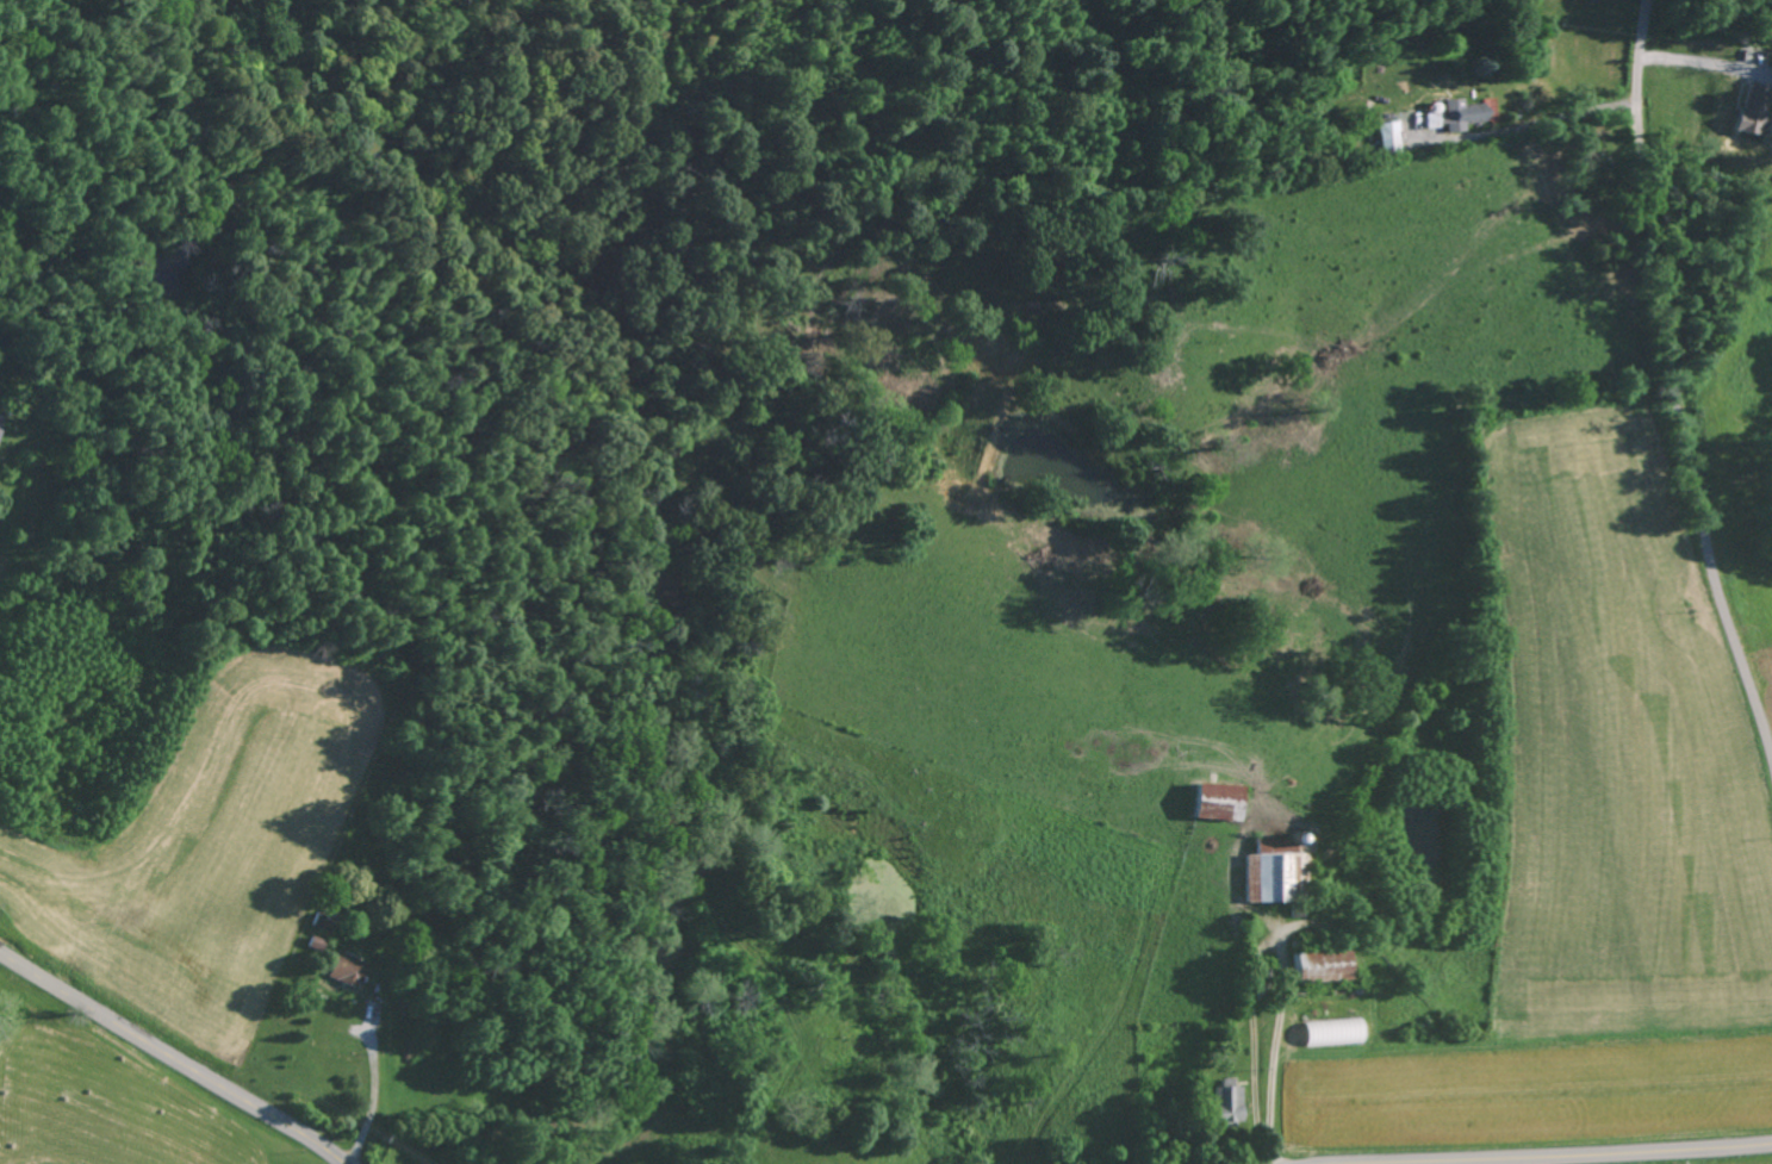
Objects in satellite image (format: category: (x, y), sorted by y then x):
road: (1699, 66)
building: (1751, 108)
building: (1456, 114)
building: (1387, 133)
road: (1670, 387)
crop: (1760, 684)
building: (1219, 801)
building: (1272, 871)
building: (315, 944)
building: (1322, 965)
building: (346, 970)
road: (170, 1057)
building: (1226, 1102)
road: (1580, 1157)

